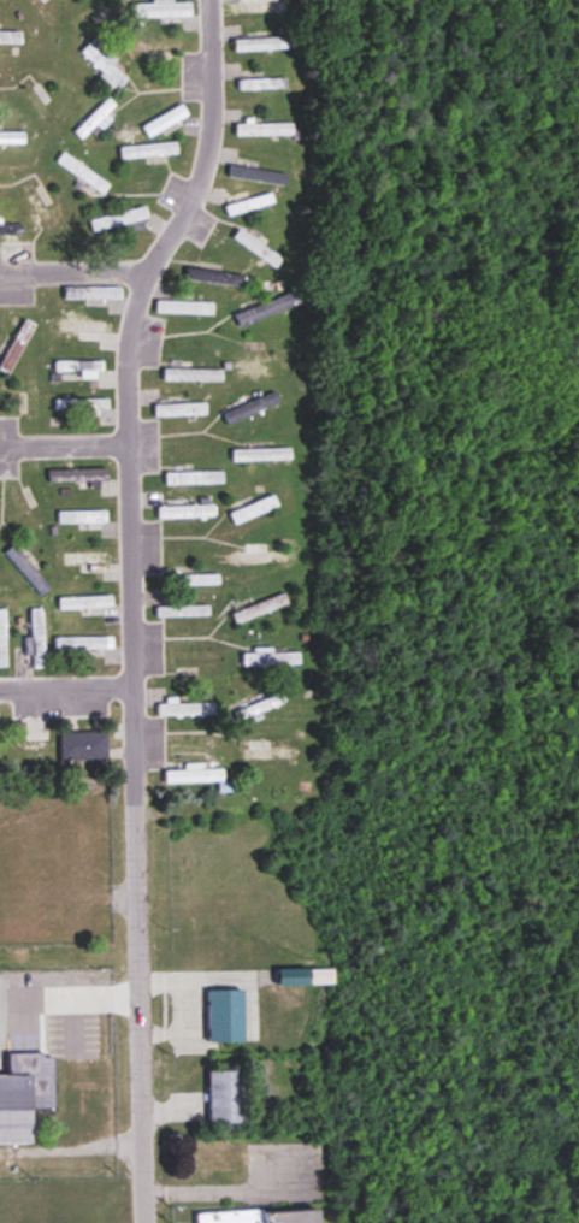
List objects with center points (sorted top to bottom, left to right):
building: (259, 7)
building: (264, 45)
building: (104, 67)
building: (261, 84)
building: (164, 122)
building: (261, 130)
building: (12, 138)
building: (149, 149)
building: (249, 205)
building: (119, 219)
road: (73, 271)
building: (217, 278)
building: (184, 308)
building: (267, 311)
building: (79, 326)
building: (16, 347)
building: (77, 371)
building: (193, 376)
building: (81, 404)
building: (250, 409)
building: (181, 410)
road: (63, 441)
building: (78, 477)
building: (194, 479)
building: (184, 513)
building: (82, 518)
building: (260, 559)
building: (87, 560)
building: (26, 569)
road: (129, 602)
building: (84, 603)
building: (260, 609)
building: (182, 611)
building: (2, 638)
building: (35, 638)
building: (270, 658)
road: (65, 684)
building: (260, 707)
building: (185, 710)
building: (83, 746)
building: (267, 754)
building: (191, 774)
building: (30, 891)
building: (319, 977)
road: (67, 994)
road: (185, 1006)
building: (224, 1016)
building: (23, 1095)
building: (226, 1095)
building: (212, 1154)
building: (261, 1216)

